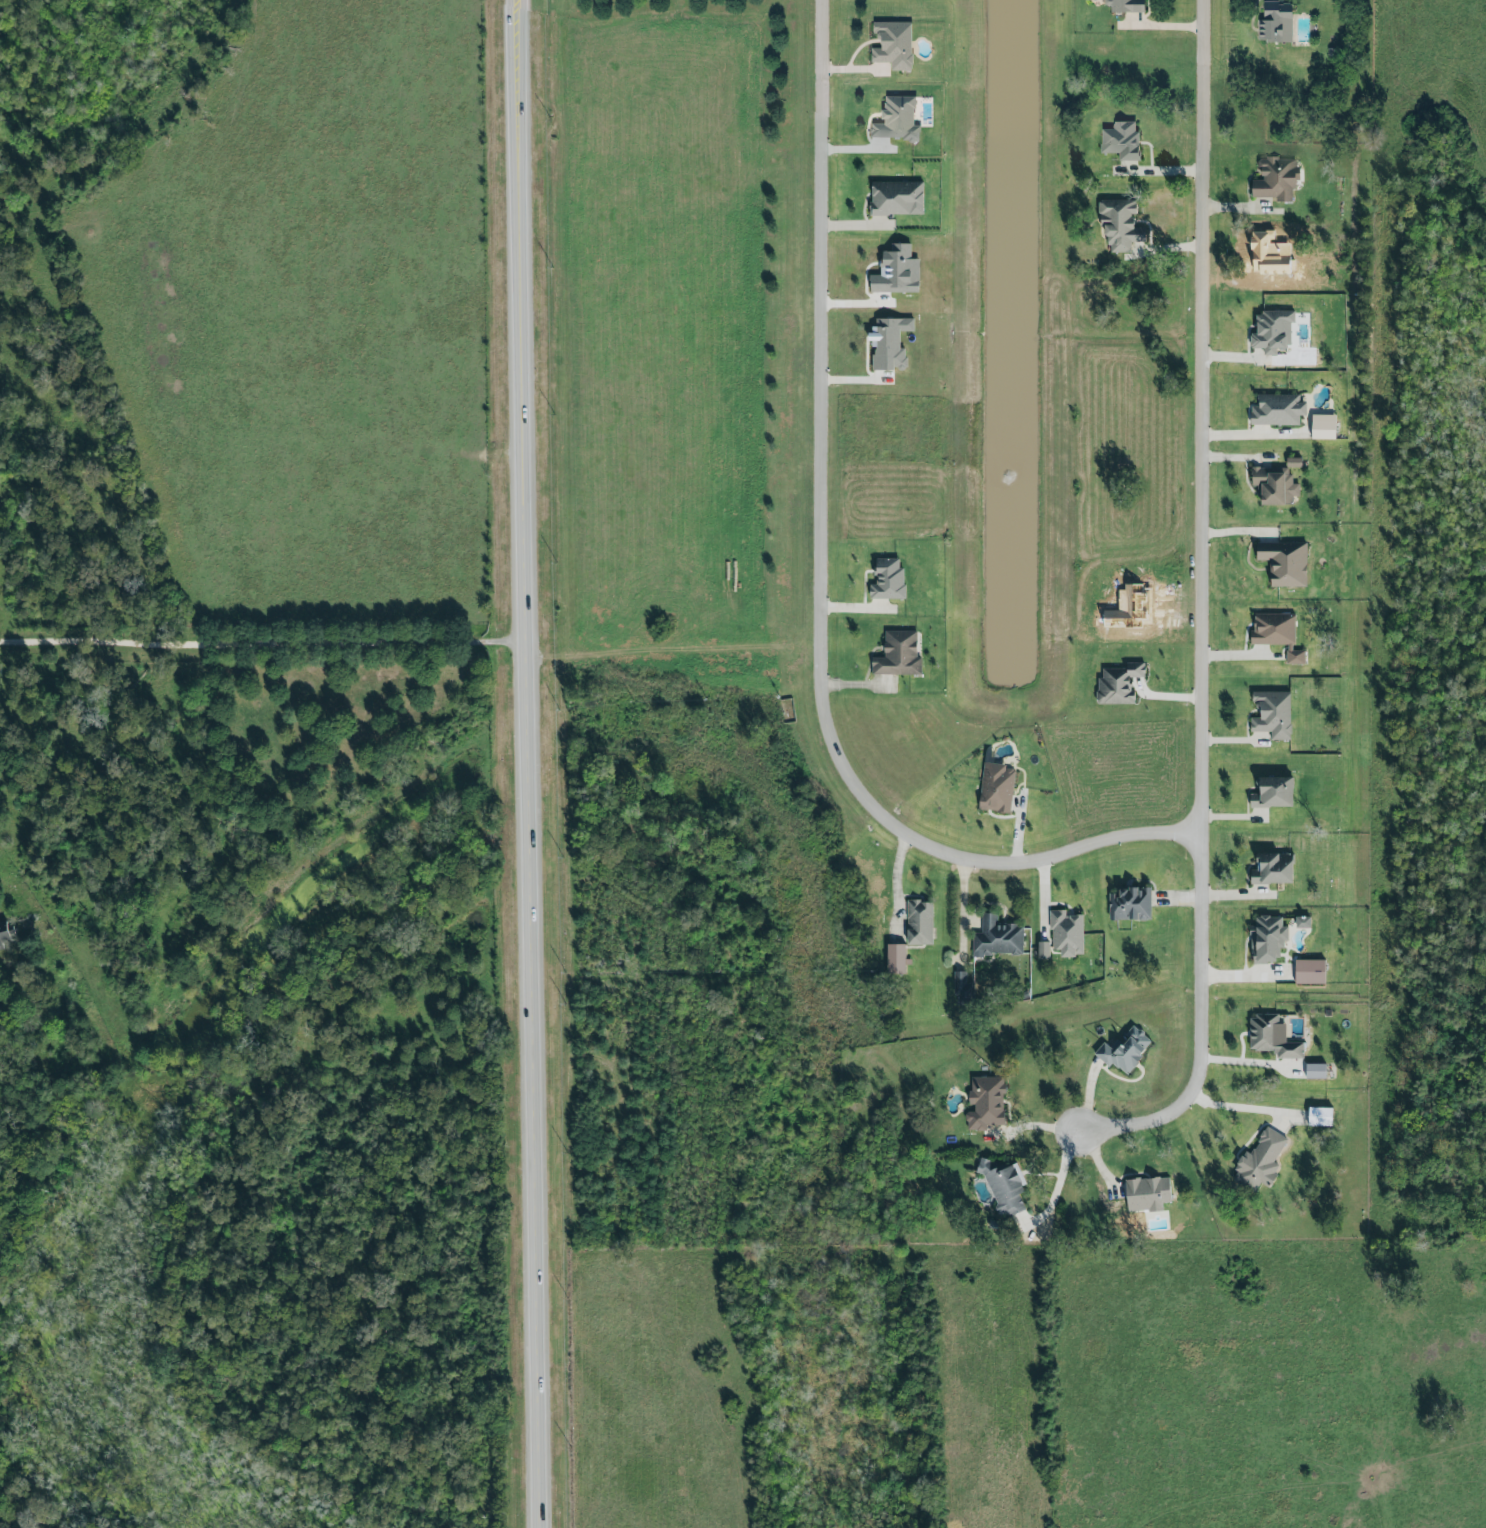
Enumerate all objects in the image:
building: (1125, 3)
building: (1275, 23)
building: (892, 38)
building: (896, 115)
building: (1121, 138)
building: (1277, 179)
building: (896, 196)
building: (1120, 222)
building: (897, 271)
building: (1273, 333)
building: (889, 341)
building: (1278, 411)
building: (1324, 427)
road: (1253, 438)
building: (1295, 463)
building: (1275, 487)
building: (1285, 563)
building: (888, 577)
road: (816, 588)
road: (1203, 614)
building: (1275, 634)
road: (264, 641)
building: (899, 653)
building: (1116, 684)
building: (1270, 715)
road: (530, 763)
building: (996, 786)
building: (1273, 790)
building: (1272, 867)
road: (894, 887)
building: (1131, 902)
building: (920, 921)
building: (1301, 922)
building: (1065, 933)
building: (998, 937)
building: (2, 938)
building: (1266, 938)
building: (1042, 949)
building: (893, 958)
building: (1307, 971)
building: (1273, 1036)
building: (1125, 1049)
building: (1313, 1071)
building: (987, 1102)
road: (1235, 1107)
building: (1317, 1116)
building: (1259, 1160)
building: (1002, 1187)
building: (1145, 1194)

